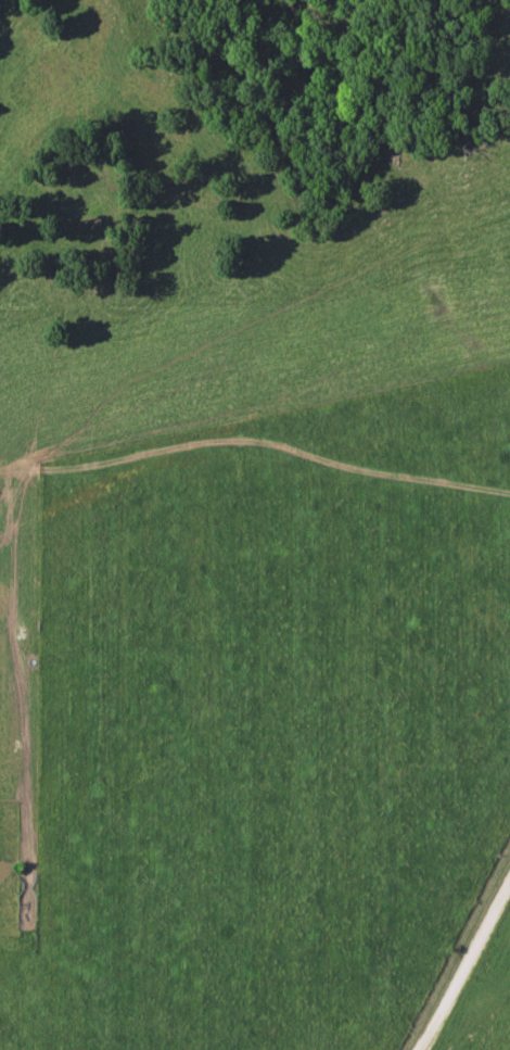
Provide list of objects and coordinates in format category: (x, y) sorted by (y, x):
road: (462, 959)

